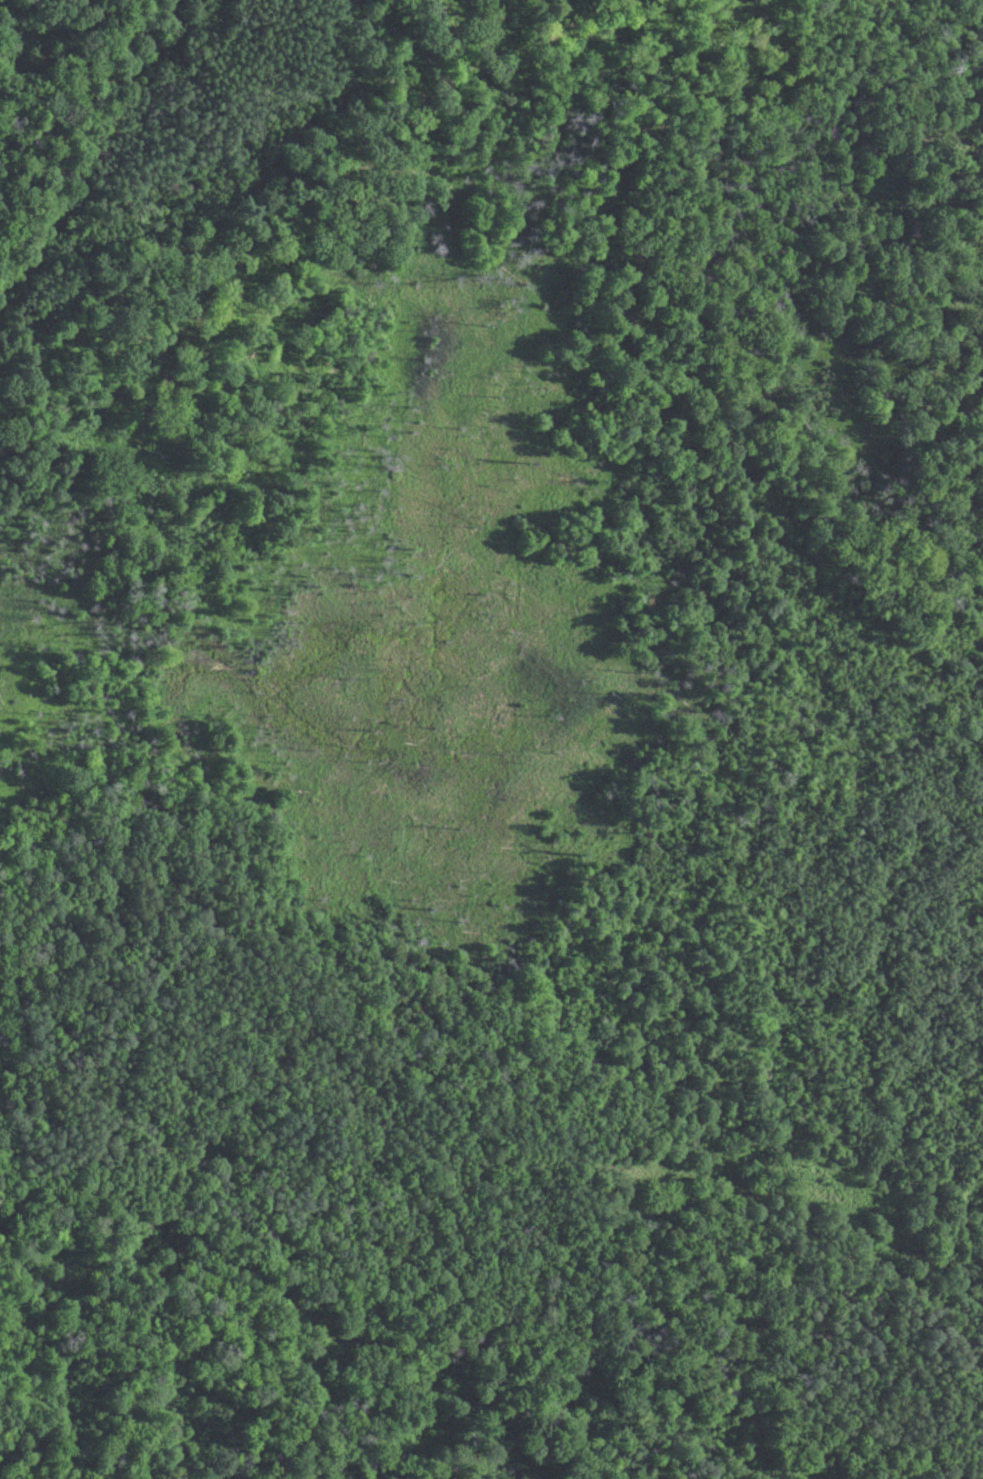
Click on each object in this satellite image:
road: (45, 44)
road: (768, 762)

